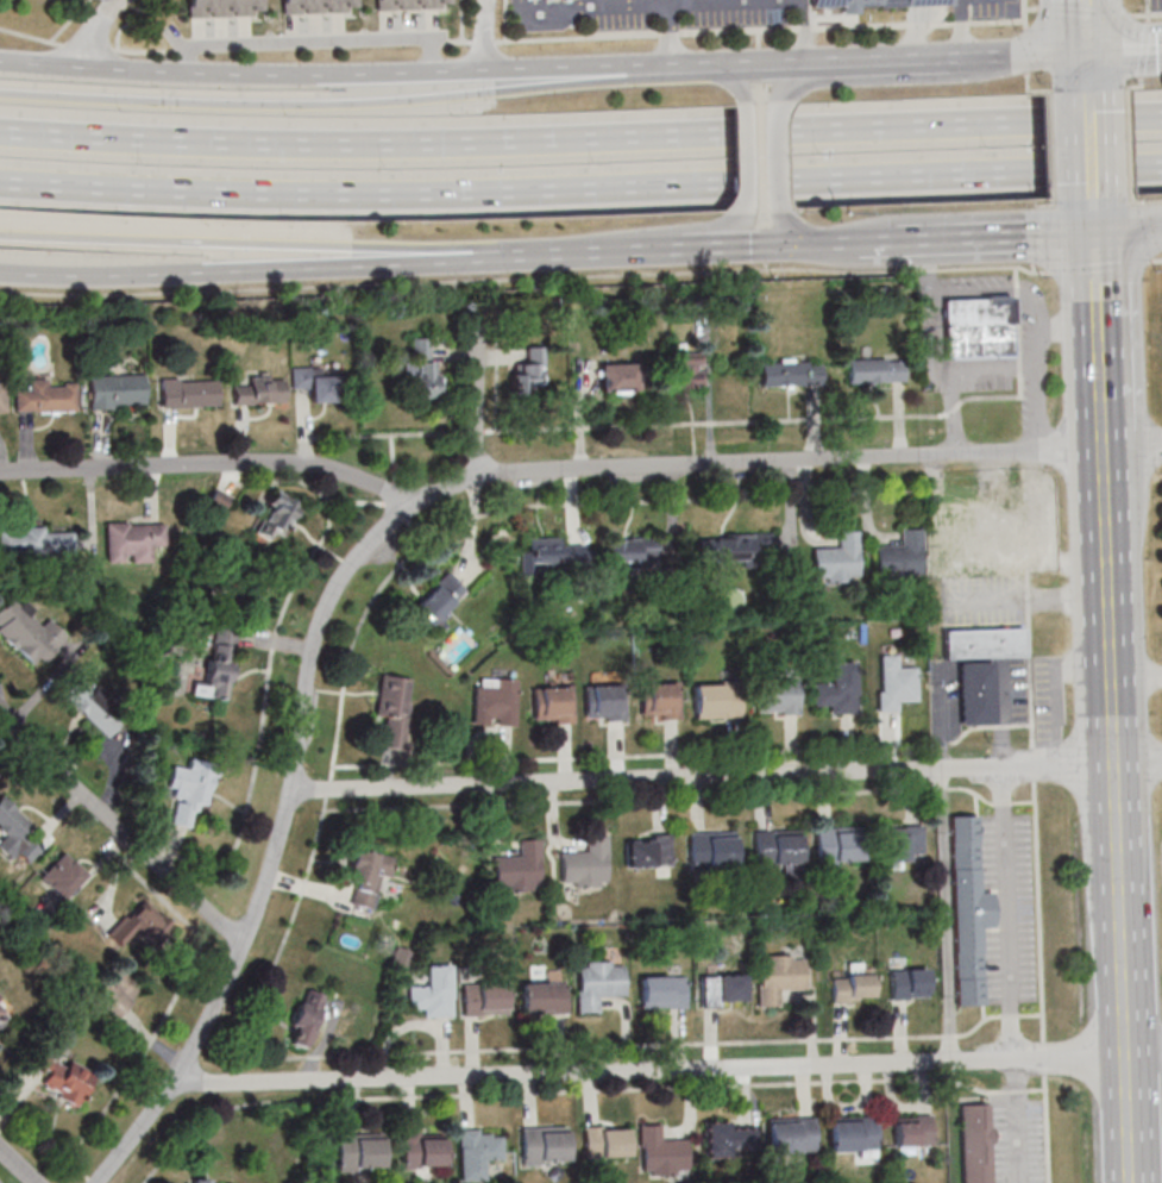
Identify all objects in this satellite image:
road: (667, 1)
road: (925, 2)
building: (871, 4)
building: (410, 5)
road: (629, 5)
parking lot: (1156, 5)
building: (318, 6)
road: (1148, 7)
building: (224, 8)
road: (554, 8)
road: (1031, 8)
road: (1085, 11)
parking lot: (618, 13)
parking lot: (735, 13)
road: (1024, 14)
road: (1147, 14)
road: (1149, 18)
road: (1087, 25)
road: (95, 29)
road: (736, 31)
road: (805, 31)
road: (484, 33)
road: (670, 35)
road: (915, 40)
road: (87, 45)
road: (1145, 48)
road: (1025, 50)
road: (1125, 50)
road: (1039, 52)
traffic signals: (1088, 52)
road: (967, 57)
road: (879, 58)
road: (812, 62)
road: (1088, 62)
road: (726, 64)
road: (806, 71)
road: (322, 73)
road: (905, 79)
road: (735, 80)
road: (1139, 87)
road: (1030, 89)
road: (1051, 92)
road: (324, 104)
road: (1129, 115)
road: (1051, 119)
road: (580, 137)
road: (1092, 140)
road: (778, 157)
road: (749, 159)
road: (1131, 168)
road: (1053, 170)
road: (580, 188)
road: (1054, 198)
road: (1143, 201)
road: (1048, 205)
road: (1094, 220)
road: (1128, 230)
road: (797, 232)
traffic signals: (1094, 232)
road: (1036, 233)
road: (647, 236)
road: (997, 236)
road: (867, 240)
road: (263, 242)
road: (758, 244)
road: (603, 250)
road: (1155, 259)
road: (925, 265)
road: (1098, 265)
road: (1034, 267)
road: (764, 268)
road: (263, 269)
road: (1095, 281)
road: (238, 289)
road: (998, 292)
road: (498, 324)
building: (978, 326)
road: (1069, 331)
road: (1041, 349)
road: (974, 368)
building: (421, 369)
building: (687, 369)
building: (875, 370)
building: (530, 371)
building: (790, 374)
road: (1100, 374)
building: (618, 377)
building: (316, 384)
building: (115, 390)
building: (260, 392)
building: (188, 393)
building: (46, 396)
building: (2, 398)
road: (476, 401)
road: (1043, 402)
road: (953, 412)
road: (739, 420)
road: (1103, 433)
road: (1044, 446)
road: (1132, 447)
road: (392, 457)
road: (1023, 458)
road: (789, 461)
road: (213, 463)
road: (390, 492)
building: (218, 500)
road: (356, 501)
building: (275, 515)
road: (1025, 518)
road: (1106, 522)
building: (36, 542)
building: (132, 542)
building: (957, 545)
building: (733, 547)
building: (633, 550)
building: (552, 555)
building: (900, 557)
building: (837, 558)
road: (1028, 580)
road: (1024, 597)
road: (1028, 599)
building: (438, 600)
parking lot: (981, 600)
building: (27, 631)
road: (276, 633)
road: (1110, 634)
building: (982, 641)
building: (219, 662)
road: (1136, 674)
road: (1030, 678)
road: (1111, 680)
building: (894, 683)
building: (837, 689)
building: (975, 691)
parking lot: (1015, 693)
building: (778, 695)
parking lot: (1048, 699)
building: (659, 700)
building: (716, 700)
building: (495, 701)
building: (603, 702)
building: (552, 703)
building: (90, 706)
building: (392, 709)
road: (1020, 725)
road: (1112, 725)
road: (1001, 726)
road: (969, 728)
road: (942, 744)
road: (632, 755)
road: (1034, 763)
road: (726, 776)
road: (940, 789)
building: (189, 790)
road: (972, 790)
road: (628, 799)
road: (1024, 801)
road: (1003, 802)
road: (284, 816)
road: (123, 828)
building: (14, 832)
building: (836, 844)
building: (903, 844)
building: (775, 847)
building: (711, 849)
building: (646, 851)
road: (312, 855)
road: (943, 862)
building: (585, 864)
building: (519, 868)
building: (368, 874)
building: (62, 875)
parking lot: (1010, 905)
road: (1119, 908)
road: (1039, 909)
building: (967, 910)
road: (176, 912)
road: (1009, 921)
building: (133, 925)
road: (228, 968)
building: (779, 976)
building: (598, 983)
building: (853, 984)
building: (909, 984)
building: (722, 990)
building: (661, 991)
building: (433, 993)
building: (114, 994)
building: (545, 994)
building: (484, 999)
building: (1, 1010)
road: (1032, 1014)
road: (1011, 1015)
building: (306, 1018)
road: (1143, 1050)
road: (142, 1057)
road: (1044, 1057)
road: (647, 1071)
building: (63, 1078)
road: (1036, 1089)
road: (560, 1090)
road: (1017, 1090)
road: (1126, 1116)
road: (1047, 1128)
building: (912, 1129)
building: (790, 1134)
road: (44, 1135)
building: (852, 1135)
road: (992, 1137)
building: (728, 1139)
parking lot: (1017, 1139)
building: (605, 1141)
building: (975, 1143)
building: (544, 1145)
building: (422, 1150)
building: (359, 1151)
building: (477, 1152)
building: (661, 1152)
road: (17, 1165)
road: (90, 1179)
building: (200, 1181)

